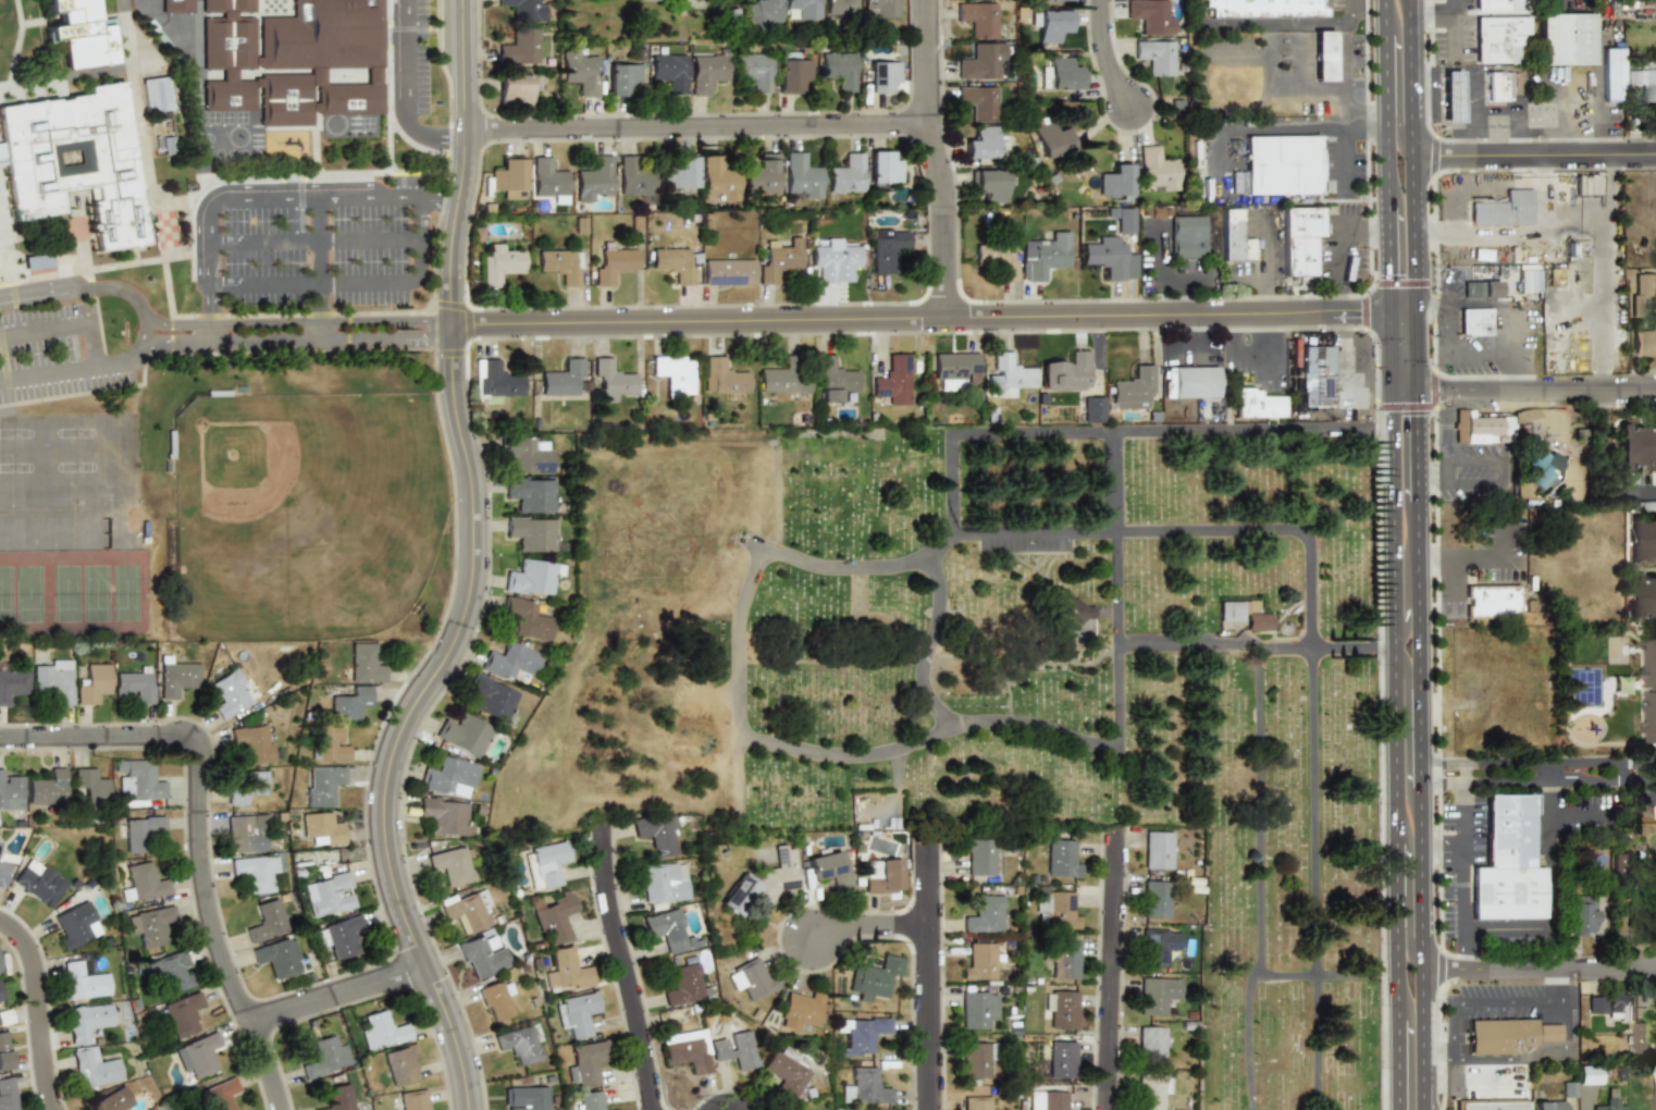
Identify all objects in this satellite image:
building: (647, 0)
building: (1051, 0)
road: (123, 3)
road: (1383, 3)
building: (1487, 4)
road: (1408, 5)
building: (839, 7)
building: (804, 8)
building: (880, 8)
building: (1265, 8)
building: (522, 9)
road: (1351, 11)
road: (1198, 12)
road: (1430, 12)
building: (759, 13)
building: (1149, 15)
building: (975, 17)
road: (1274, 23)
building: (1050, 24)
road: (1450, 26)
building: (78, 33)
building: (1564, 38)
building: (1500, 39)
building: (517, 46)
building: (1154, 55)
road: (406, 57)
building: (1323, 57)
building: (293, 59)
building: (980, 61)
road: (1098, 62)
road: (1384, 63)
building: (837, 70)
building: (705, 71)
building: (752, 71)
building: (580, 72)
building: (666, 72)
building: (789, 72)
building: (881, 75)
building: (1060, 75)
building: (1611, 75)
building: (620, 77)
road: (1396, 81)
road: (1410, 82)
building: (1642, 83)
building: (512, 89)
building: (1495, 89)
building: (156, 91)
building: (1450, 96)
building: (976, 101)
road: (1362, 123)
road: (1244, 125)
road: (429, 134)
road: (692, 134)
building: (1050, 138)
road: (1386, 138)
building: (980, 143)
road: (1532, 152)
building: (1203, 158)
building: (74, 159)
road: (924, 161)
road: (1340, 161)
building: (1282, 165)
building: (883, 169)
building: (1157, 169)
building: (679, 173)
building: (846, 173)
building: (762, 174)
building: (801, 175)
building: (508, 177)
building: (632, 177)
building: (547, 178)
building: (593, 178)
building: (718, 178)
building: (1237, 182)
building: (1113, 183)
building: (990, 184)
road: (1386, 185)
building: (1585, 185)
road: (318, 197)
road: (436, 198)
building: (1503, 209)
road: (1543, 217)
road: (1412, 227)
building: (1187, 236)
parking lot: (316, 237)
building: (1233, 237)
road: (1482, 237)
road: (209, 238)
building: (1299, 238)
road: (313, 239)
road: (417, 239)
road: (1338, 244)
building: (887, 248)
building: (1111, 248)
building: (1025, 257)
building: (836, 259)
road: (1387, 259)
building: (36, 261)
building: (778, 261)
building: (672, 263)
building: (499, 264)
building: (611, 264)
building: (559, 266)
road: (318, 269)
road: (1160, 270)
road: (1606, 271)
building: (727, 272)
building: (1527, 281)
road: (312, 284)
building: (1480, 289)
building: (1640, 293)
road: (1261, 303)
road: (1400, 304)
road: (1504, 304)
road: (1413, 310)
road: (1388, 312)
road: (209, 313)
road: (215, 321)
road: (1340, 321)
road: (1367, 321)
building: (1474, 321)
road: (890, 322)
road: (143, 329)
road: (42, 331)
road: (276, 341)
building: (1641, 342)
road: (90, 345)
parking lot: (46, 354)
road: (1246, 355)
road: (1414, 355)
road: (1391, 357)
road: (1361, 367)
building: (955, 368)
road: (57, 371)
building: (1066, 372)
building: (675, 374)
building: (1008, 374)
building: (1315, 375)
building: (722, 377)
building: (561, 378)
building: (783, 378)
building: (833, 378)
building: (611, 379)
building: (893, 379)
building: (496, 381)
building: (1189, 382)
building: (1132, 387)
road: (1547, 392)
road: (1404, 393)
road: (1428, 393)
parking lot: (0, 400)
road: (1596, 403)
building: (1257, 404)
building: (1092, 409)
road: (1393, 410)
building: (1483, 429)
building: (1635, 446)
road: (1416, 447)
building: (526, 454)
road: (1439, 465)
road: (1603, 477)
building: (531, 493)
building: (1645, 508)
park: (301, 511)
road: (959, 529)
building: (530, 532)
building: (1642, 539)
road: (756, 565)
road: (469, 571)
building: (531, 577)
road: (1473, 577)
park: (30, 593)
park: (64, 593)
park: (96, 593)
park: (128, 593)
park: (7, 594)
road: (1450, 597)
building: (1644, 599)
building: (1492, 601)
road: (1395, 603)
building: (1229, 610)
road: (1405, 614)
building: (1257, 616)
building: (528, 617)
building: (1075, 618)
road: (1417, 643)
road: (1187, 646)
road: (1259, 651)
building: (363, 663)
building: (511, 663)
park: (1005, 675)
building: (53, 678)
building: (177, 678)
building: (136, 681)
building: (13, 682)
building: (94, 683)
building: (1648, 691)
building: (231, 694)
building: (490, 696)
building: (350, 703)
road: (1406, 718)
building: (464, 735)
road: (922, 737)
road: (1077, 740)
building: (252, 741)
building: (329, 745)
road: (851, 753)
road: (1536, 775)
building: (450, 777)
building: (139, 779)
building: (321, 785)
building: (245, 786)
building: (88, 787)
building: (47, 788)
building: (10, 791)
road: (1644, 803)
building: (443, 815)
road: (1580, 817)
building: (322, 828)
building: (137, 831)
building: (243, 832)
road: (197, 834)
building: (657, 834)
building: (1158, 850)
road: (1439, 850)
building: (979, 856)
building: (0, 858)
building: (1062, 858)
building: (1507, 863)
building: (545, 864)
building: (453, 865)
building: (827, 865)
road: (1550, 871)
building: (256, 872)
road: (1396, 874)
road: (1462, 874)
building: (4, 876)
building: (879, 876)
building: (39, 883)
building: (143, 883)
building: (664, 883)
building: (762, 884)
road: (1418, 884)
building: (326, 893)
building: (1156, 897)
road: (1407, 899)
building: (1056, 908)
building: (467, 910)
building: (985, 914)
building: (1580, 915)
building: (554, 916)
building: (267, 921)
building: (74, 925)
building: (148, 926)
road: (1508, 928)
building: (666, 929)
road: (862, 934)
building: (339, 936)
building: (1159, 943)
building: (482, 955)
building: (279, 957)
building: (1064, 958)
building: (980, 962)
road: (616, 967)
road: (1537, 969)
building: (170, 970)
building: (566, 972)
road: (1104, 972)
building: (874, 975)
road: (922, 975)
building: (750, 978)
building: (83, 979)
road: (1564, 984)
building: (683, 985)
building: (1, 992)
road: (333, 994)
building: (1158, 994)
road: (1482, 998)
building: (495, 999)
building: (1596, 1003)
building: (1619, 1006)
building: (1062, 1009)
building: (800, 1010)
building: (977, 1010)
road: (1315, 1010)
road: (38, 1012)
building: (576, 1013)
building: (178, 1015)
building: (5, 1017)
building: (86, 1021)
building: (381, 1032)
building: (856, 1035)
building: (1507, 1035)
building: (1640, 1038)
road: (1396, 1040)
building: (519, 1044)
building: (1150, 1044)
road: (1421, 1046)
building: (732, 1049)
building: (687, 1050)
building: (4, 1051)
building: (195, 1054)
road: (1518, 1056)
building: (325, 1057)
building: (976, 1058)
road: (1408, 1058)
building: (1062, 1059)
building: (585, 1063)
building: (401, 1065)
building: (95, 1070)
building: (784, 1073)
building: (1589, 1074)
building: (865, 1086)
building: (1568, 1089)
building: (1151, 1091)
building: (220, 1094)
building: (7, 1095)
building: (524, 1098)
building: (336, 1099)
building: (111, 1100)
building: (413, 1100)
building: (586, 1100)
building: (1047, 1100)
building: (975, 1103)
building: (1491, 1105)
building: (1548, 1105)
building: (1609, 1105)

